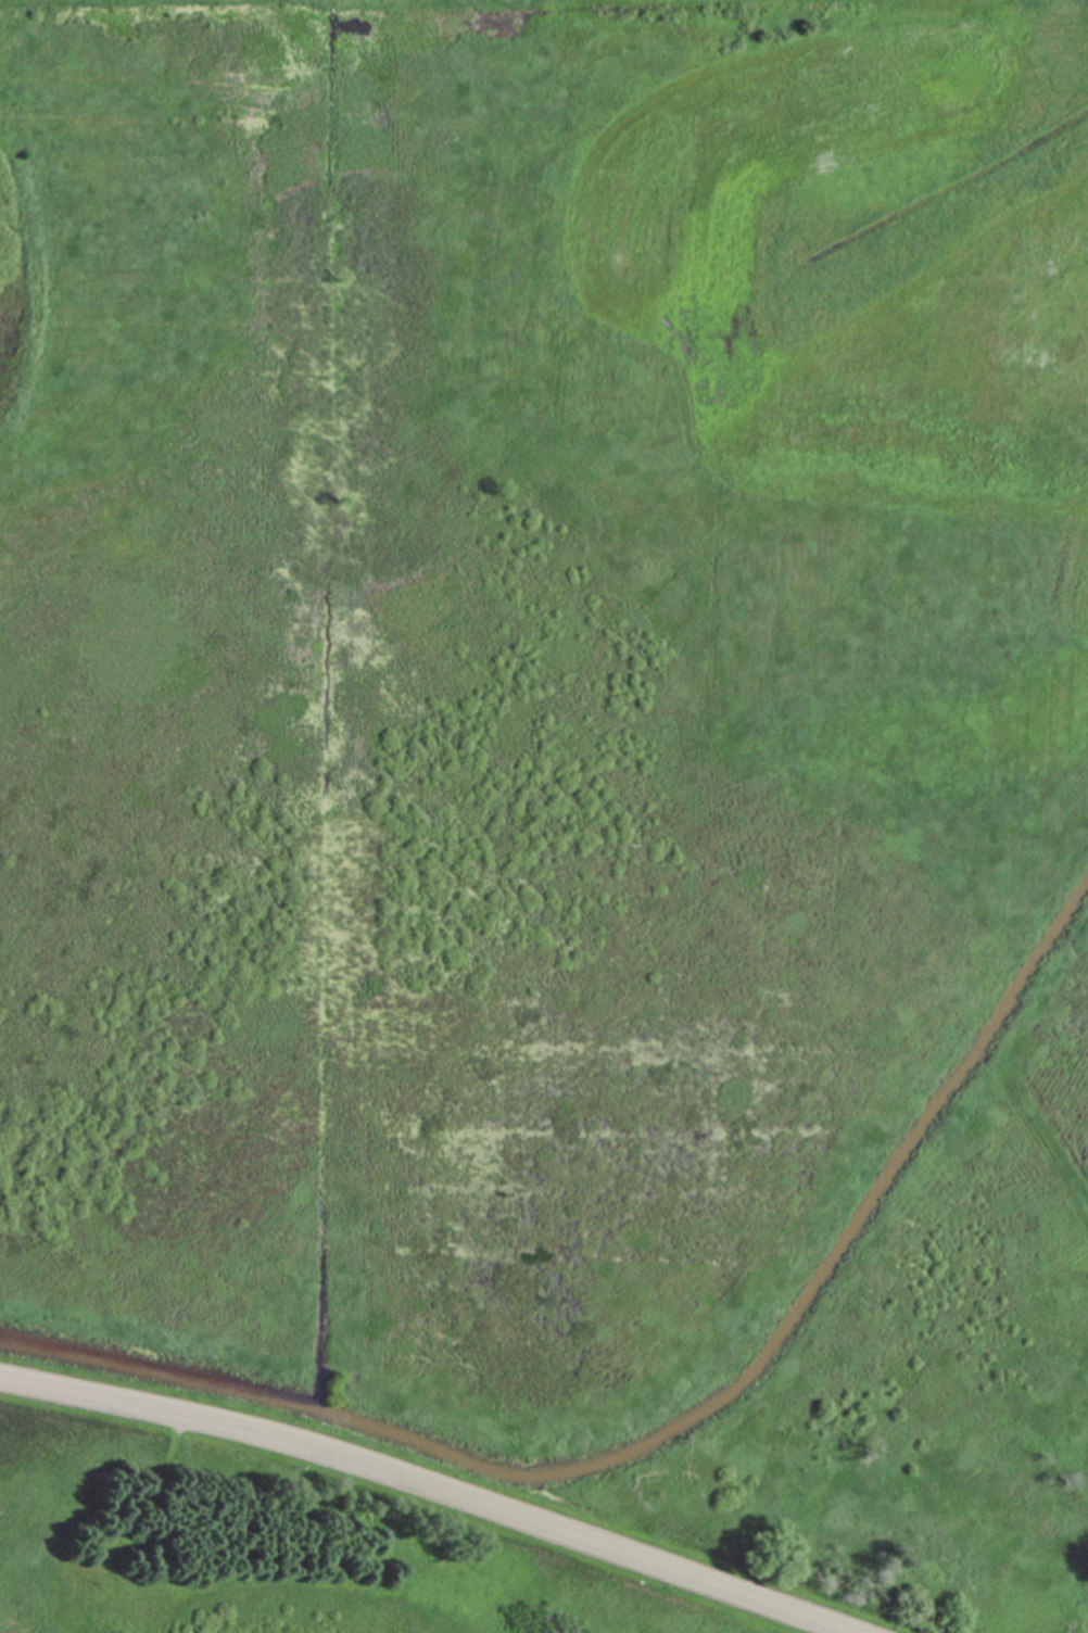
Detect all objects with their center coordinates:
road: (431, 1485)

